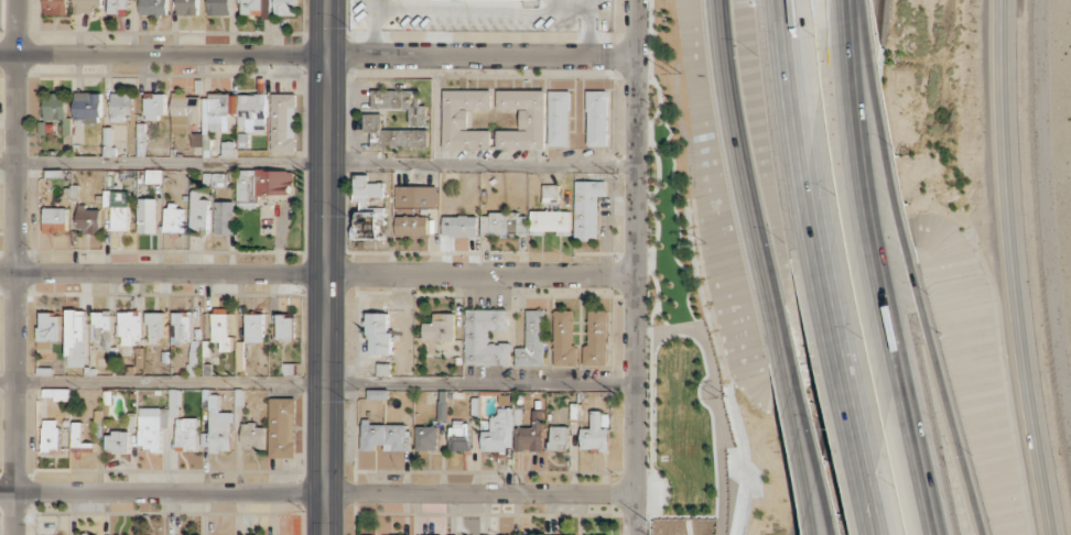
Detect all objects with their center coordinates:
building: (443, 0)
building: (86, 6)
building: (117, 6)
building: (56, 7)
building: (153, 7)
building: (218, 7)
building: (250, 7)
building: (284, 7)
road: (478, 8)
road: (589, 26)
road: (374, 29)
road: (318, 54)
building: (401, 102)
building: (154, 105)
building: (54, 107)
building: (86, 107)
building: (120, 107)
building: (184, 111)
building: (235, 111)
building: (559, 118)
building: (597, 118)
building: (463, 119)
building: (522, 119)
building: (283, 122)
road: (799, 122)
road: (880, 133)
building: (392, 134)
building: (228, 149)
road: (163, 163)
building: (153, 176)
building: (261, 185)
road: (856, 185)
road: (746, 186)
building: (550, 194)
building: (414, 195)
railway: (850, 199)
building: (118, 208)
building: (366, 208)
building: (586, 208)
building: (198, 211)
building: (147, 215)
building: (224, 217)
building: (173, 218)
building: (55, 219)
building: (89, 219)
building: (549, 221)
road: (757, 221)
building: (502, 223)
building: (459, 226)
building: (411, 227)
road: (327, 266)
road: (19, 267)
road: (637, 267)
road: (1010, 269)
road: (318, 272)
building: (128, 326)
building: (101, 327)
building: (154, 327)
building: (181, 327)
building: (255, 327)
building: (285, 327)
building: (440, 327)
building: (48, 329)
building: (221, 330)
building: (379, 334)
building: (76, 338)
building: (485, 338)
building: (563, 338)
building: (596, 339)
building: (532, 340)
building: (382, 369)
road: (842, 380)
road: (317, 384)
building: (57, 393)
building: (377, 394)
road: (944, 401)
building: (173, 403)
building: (442, 410)
building: (151, 427)
building: (282, 427)
building: (500, 430)
building: (595, 433)
building: (186, 434)
building: (530, 434)
building: (51, 435)
building: (459, 435)
building: (217, 436)
building: (385, 436)
building: (558, 436)
building: (252, 437)
building: (425, 438)
building: (80, 440)
building: (117, 441)
road: (911, 451)
road: (793, 454)
road: (810, 454)
railway: (807, 467)
road: (317, 492)
road: (870, 525)
building: (94, 534)

